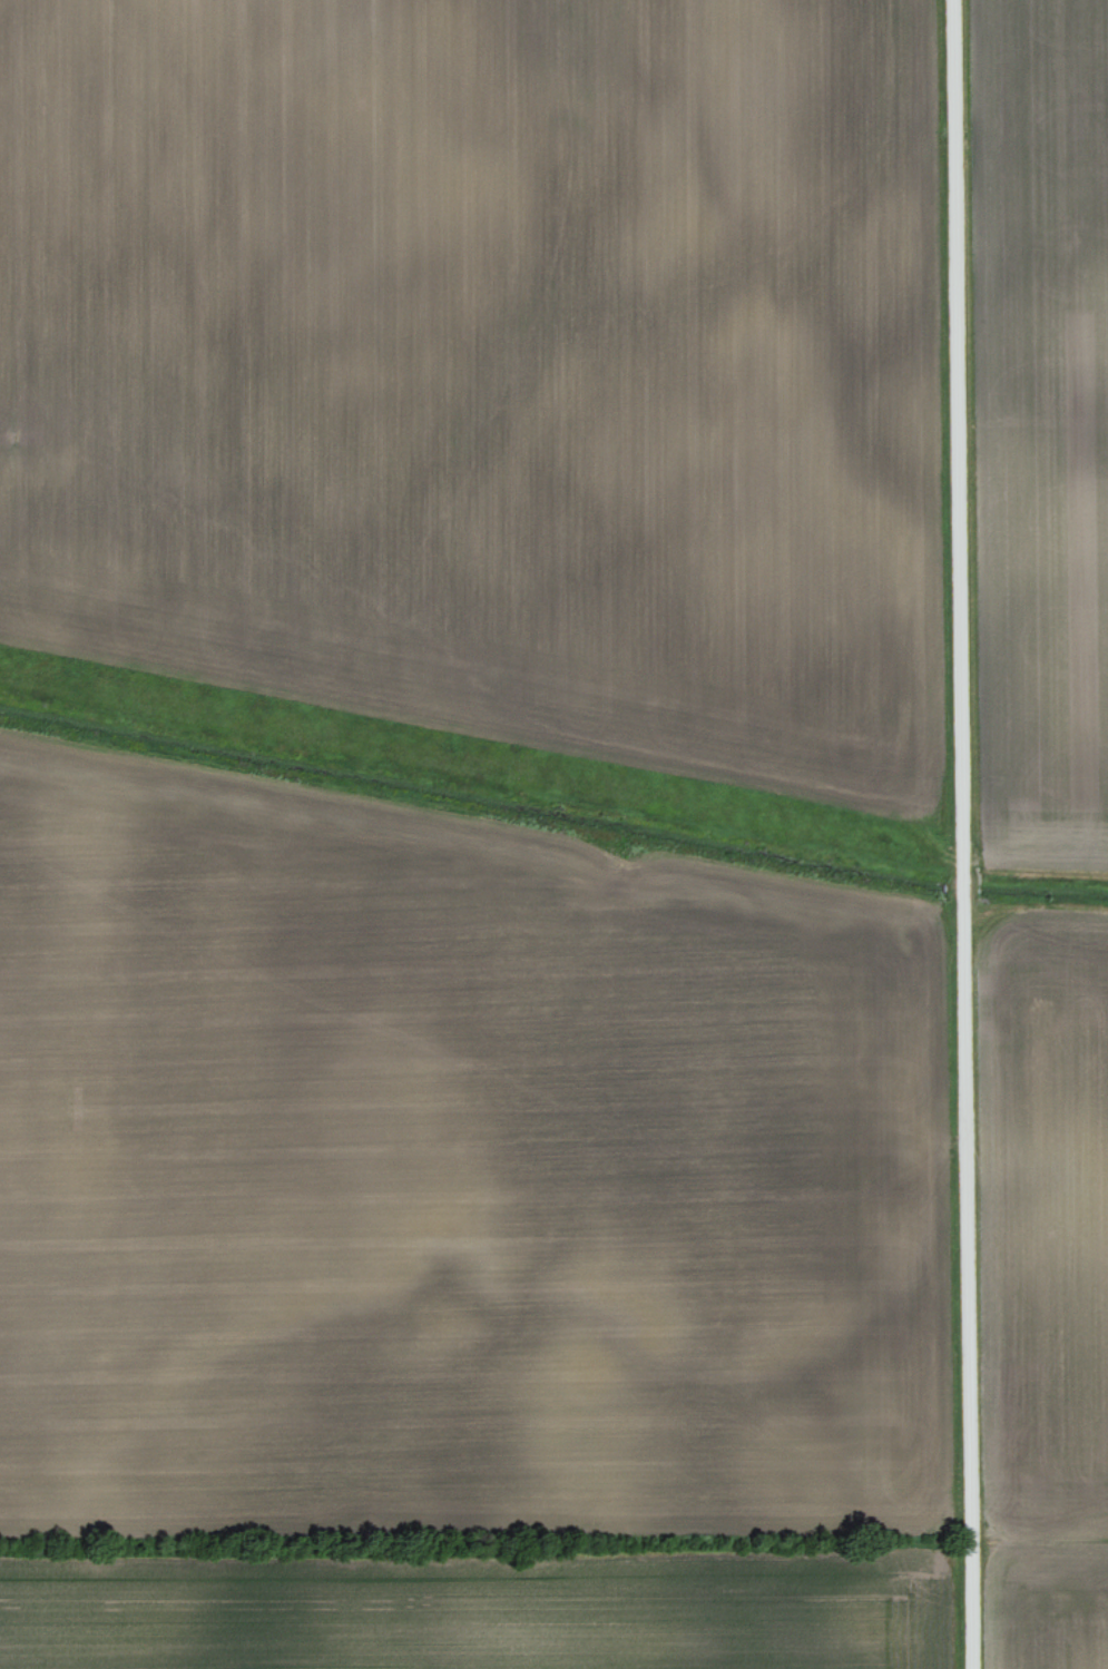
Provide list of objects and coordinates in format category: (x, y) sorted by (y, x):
road: (961, 834)

